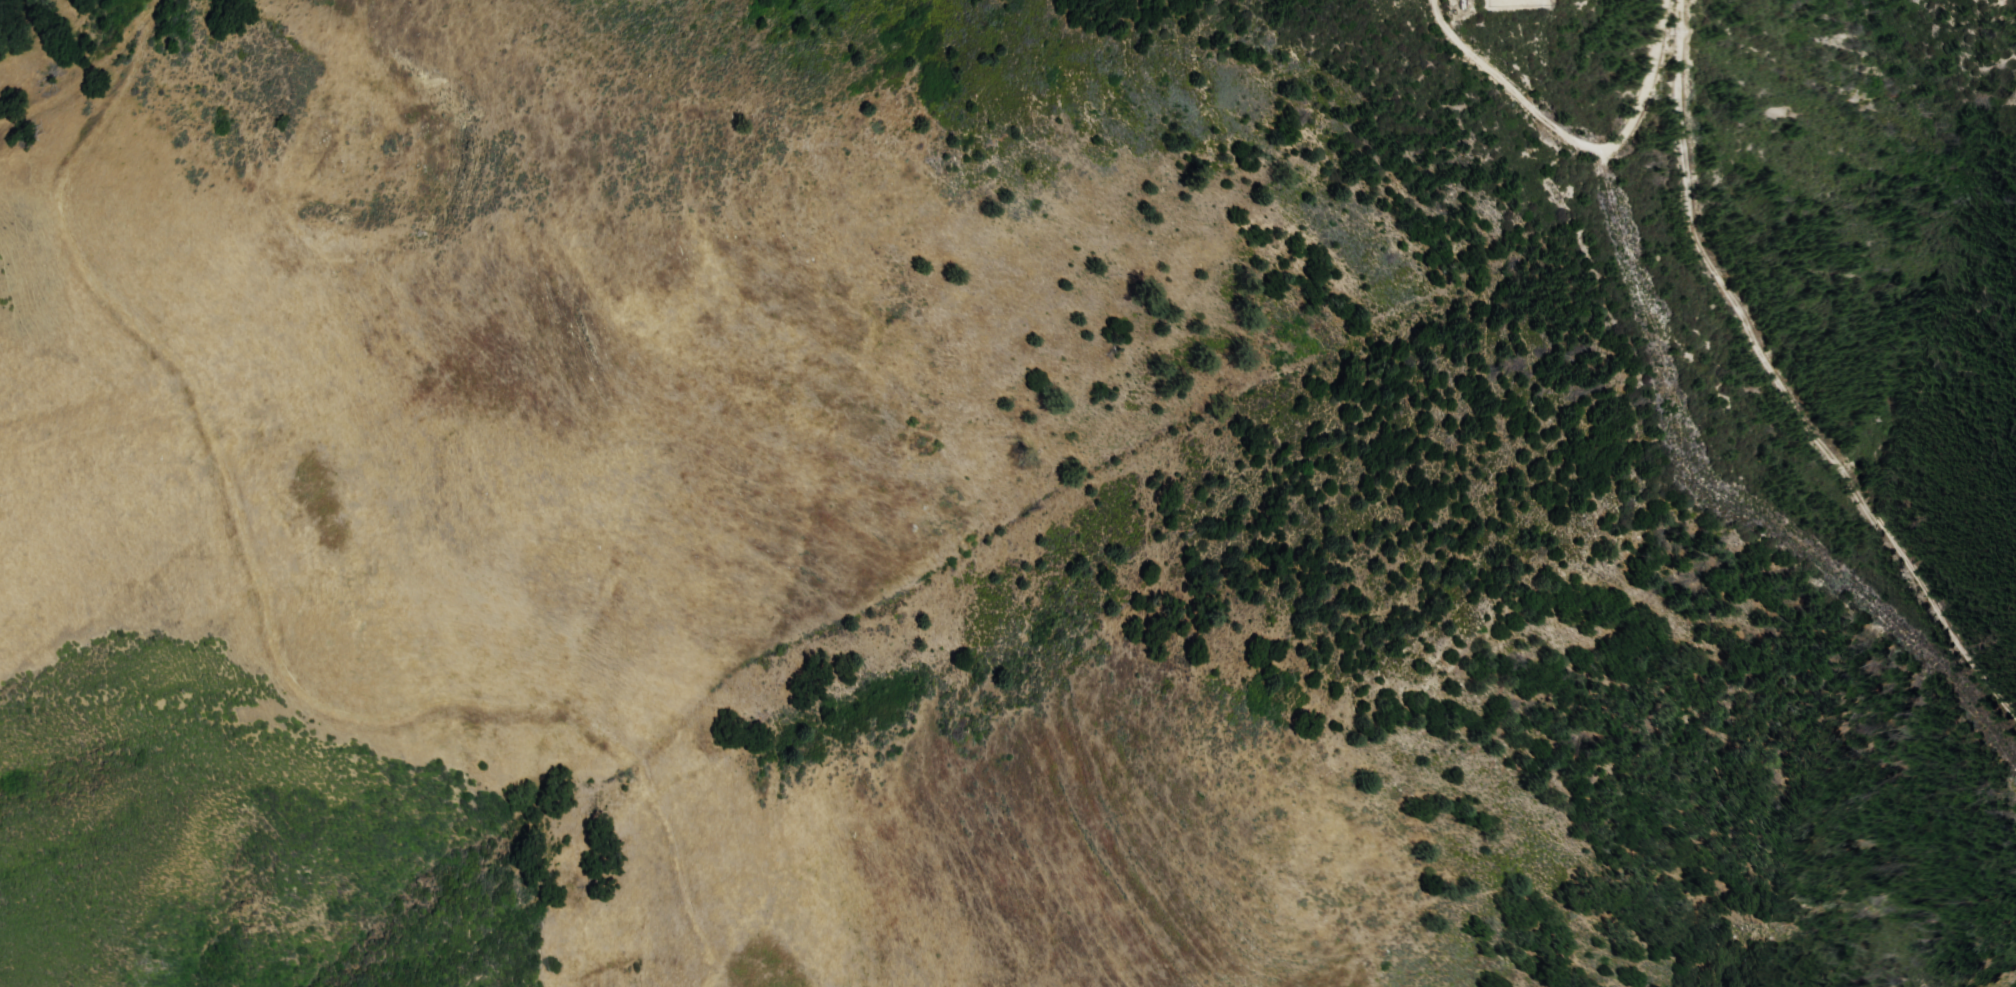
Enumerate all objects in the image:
building: (1463, 4)
road: (87, 77)
road: (1576, 140)
road: (1784, 382)
road: (264, 614)

